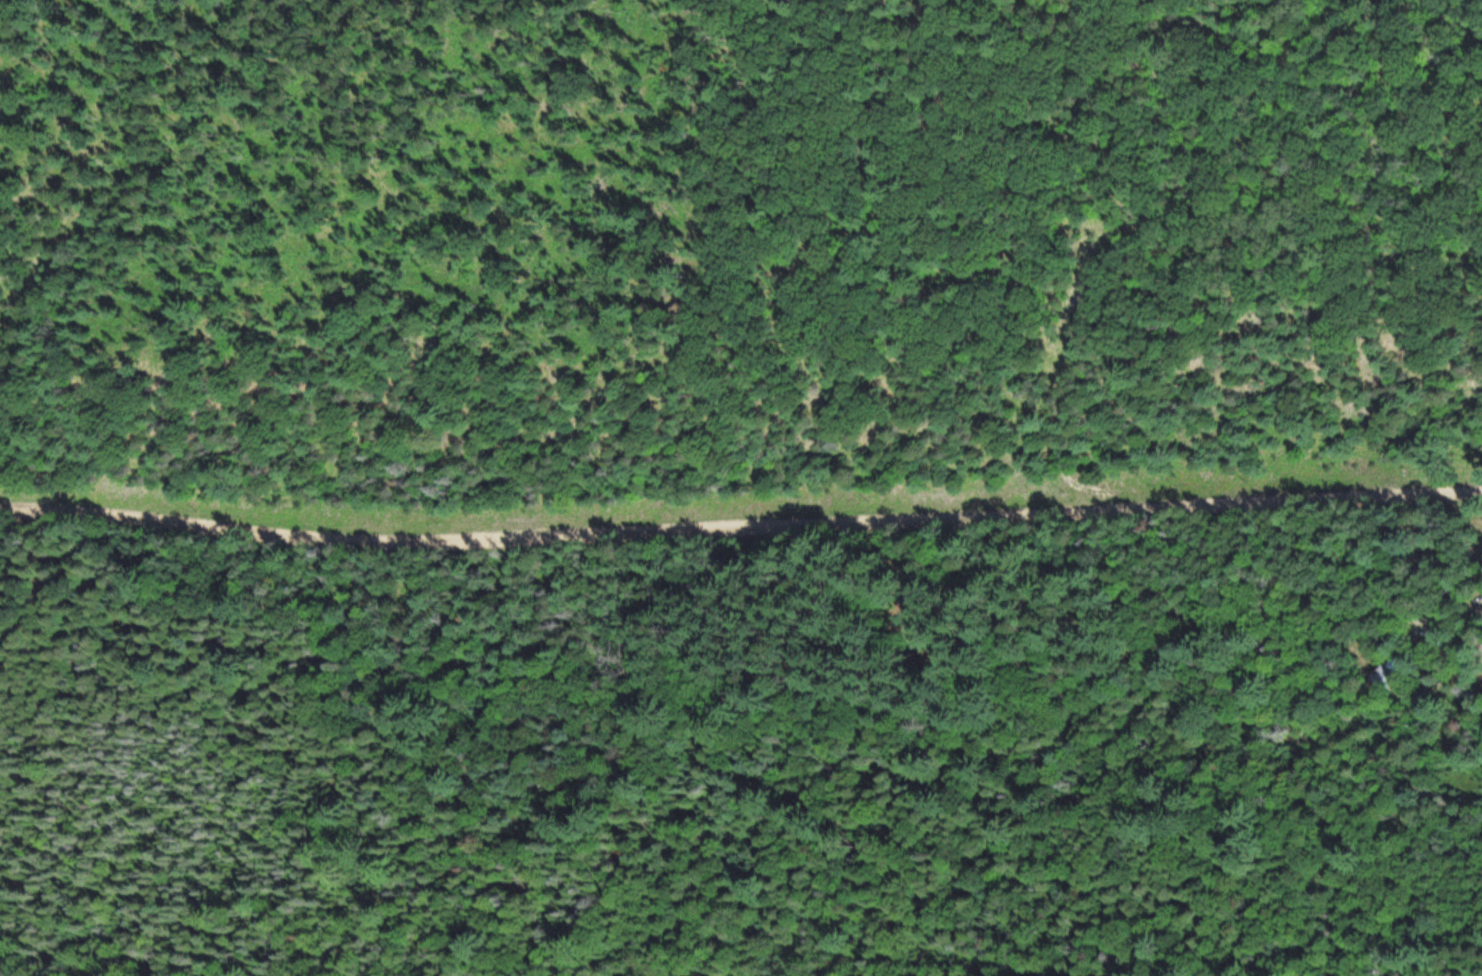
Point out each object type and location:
road: (740, 525)
road: (1400, 594)
road: (1286, 605)
building: (1406, 662)
road: (1250, 721)
road: (1308, 863)

